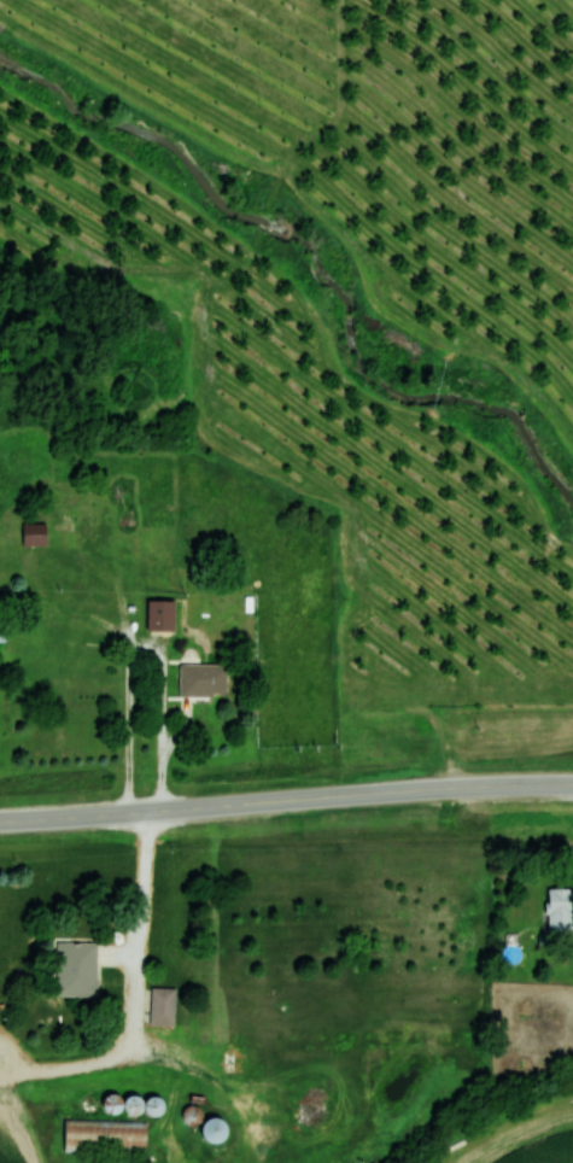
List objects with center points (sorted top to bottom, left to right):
building: (33, 533)
building: (159, 615)
building: (2, 633)
building: (203, 679)
road: (286, 800)
building: (559, 910)
building: (76, 969)
building: (162, 1005)
building: (90, 1104)
building: (133, 1104)
building: (212, 1129)
building: (104, 1136)

